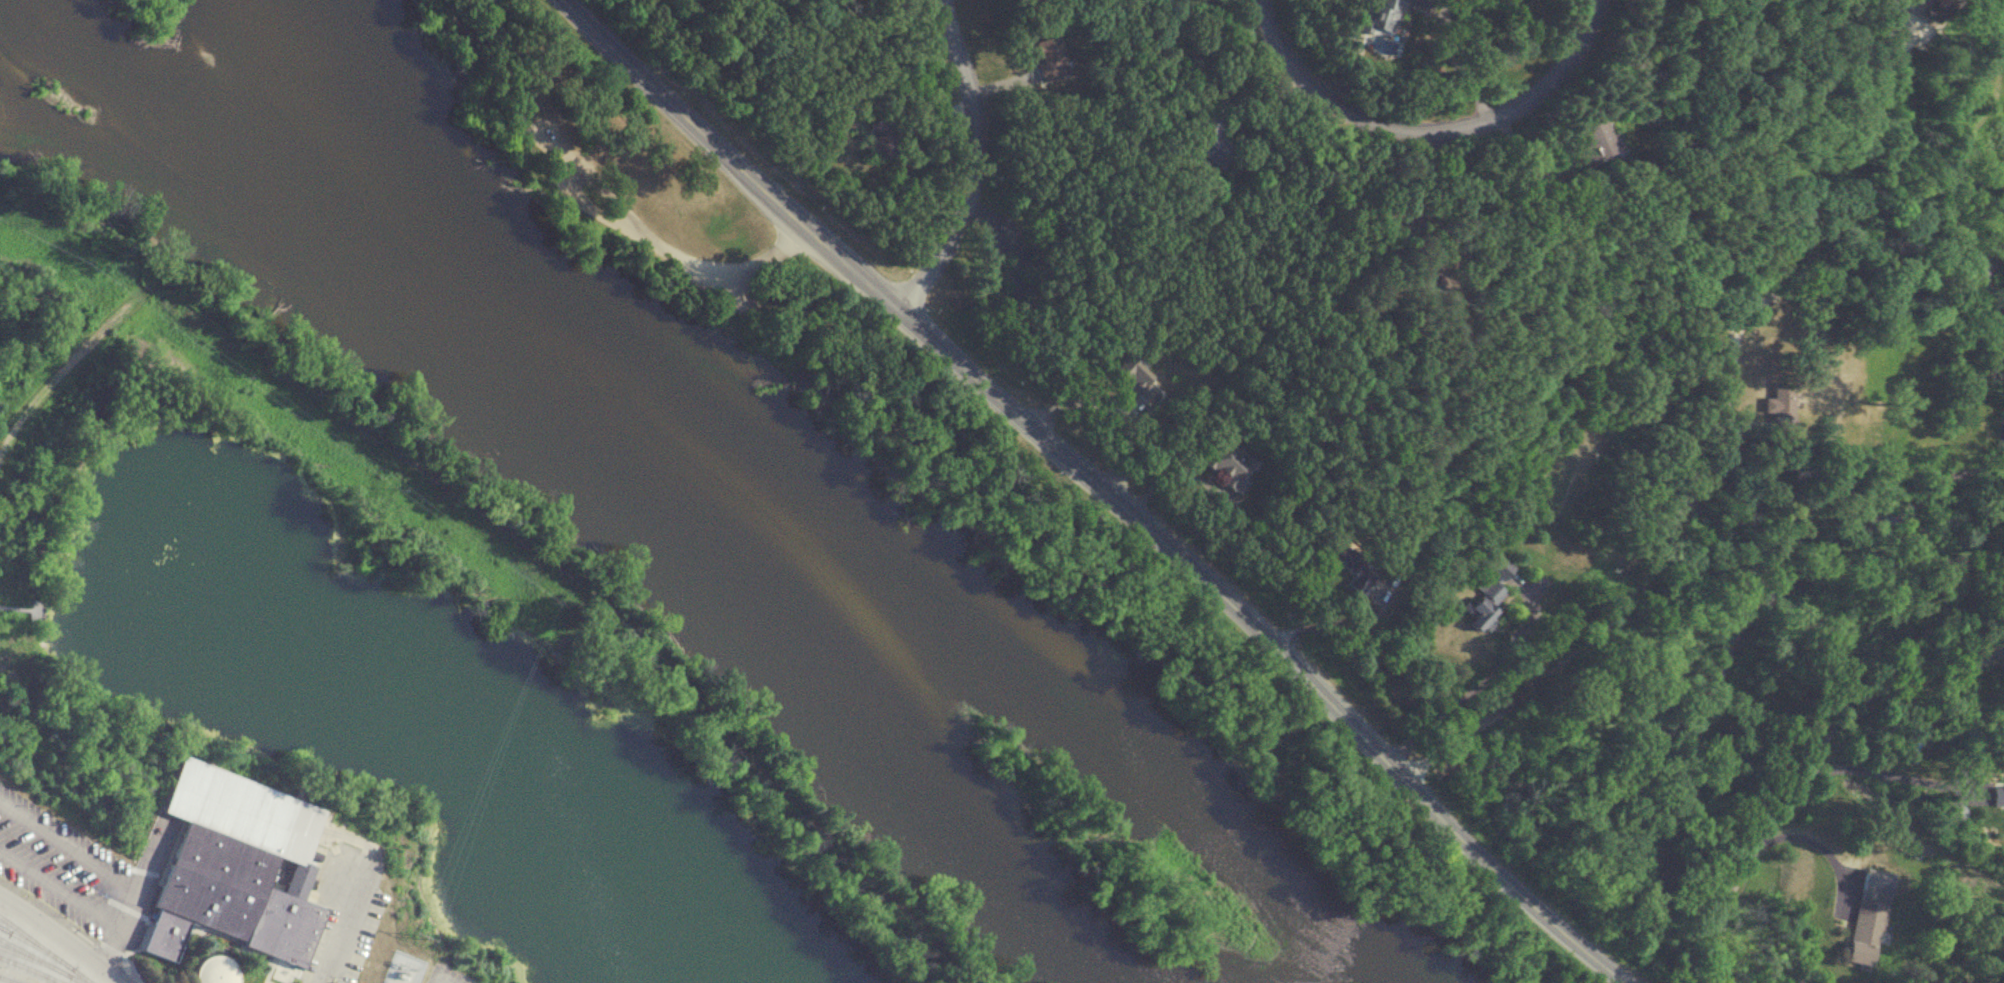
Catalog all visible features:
building: (1935, 9)
building: (1382, 15)
building: (1049, 56)
road: (1461, 63)
road: (503, 76)
road: (1430, 132)
building: (882, 137)
building: (1210, 138)
building: (1594, 141)
road: (972, 162)
parking lot: (595, 187)
park: (671, 203)
road: (672, 255)
building: (1441, 269)
building: (1140, 381)
building: (1779, 403)
road: (1115, 406)
road: (1689, 425)
building: (1231, 463)
river: (701, 466)
road: (1104, 484)
building: (1356, 568)
building: (1487, 591)
road: (1334, 620)
road: (1462, 696)
building: (1908, 749)
road: (1802, 765)
road: (1873, 770)
building: (1998, 792)
building: (1951, 812)
road: (1811, 839)
road: (80, 854)
building: (232, 865)
road: (57, 888)
road: (342, 925)
building: (1864, 932)
road: (60, 937)
railway: (29, 938)
road: (107, 947)
railway: (47, 953)
railway: (24, 956)
railway: (39, 961)
building: (207, 968)
railway: (31, 969)
railway: (7, 980)

